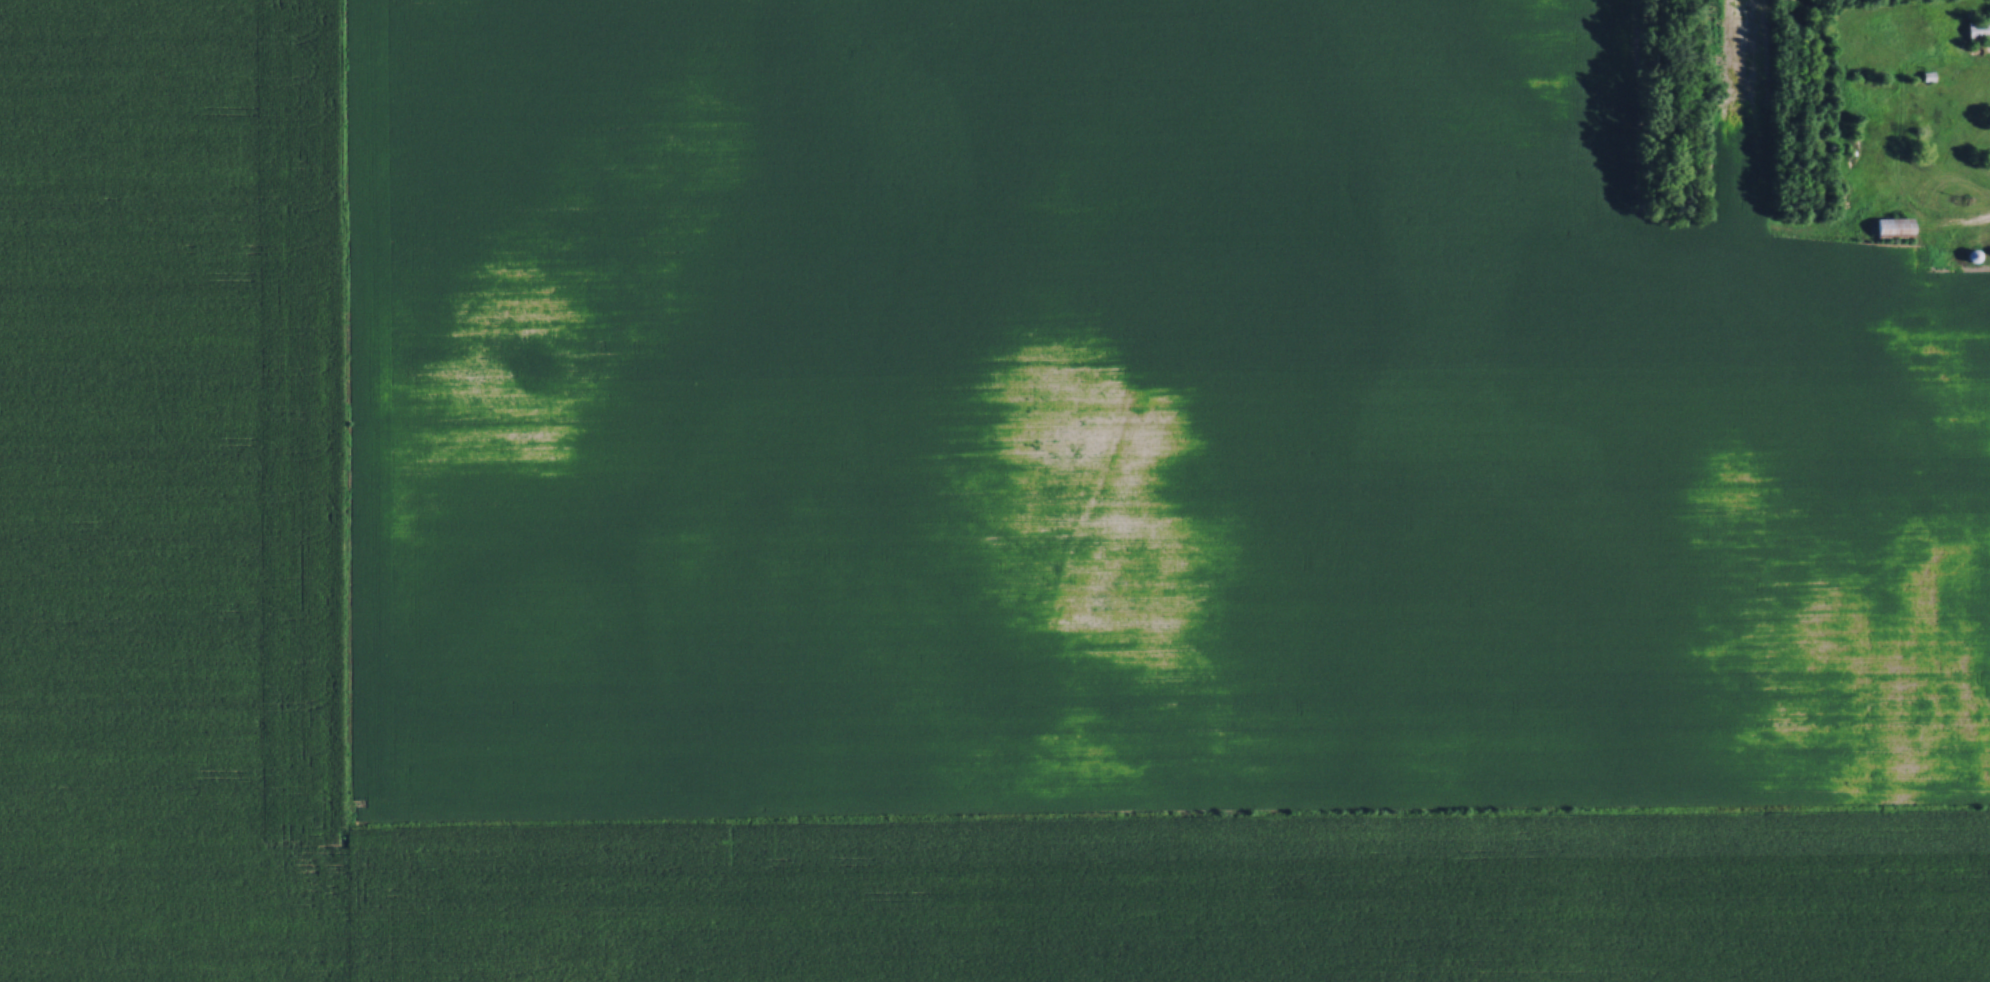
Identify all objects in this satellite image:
building: (1779, 1)
building: (1978, 34)
building: (1892, 226)

